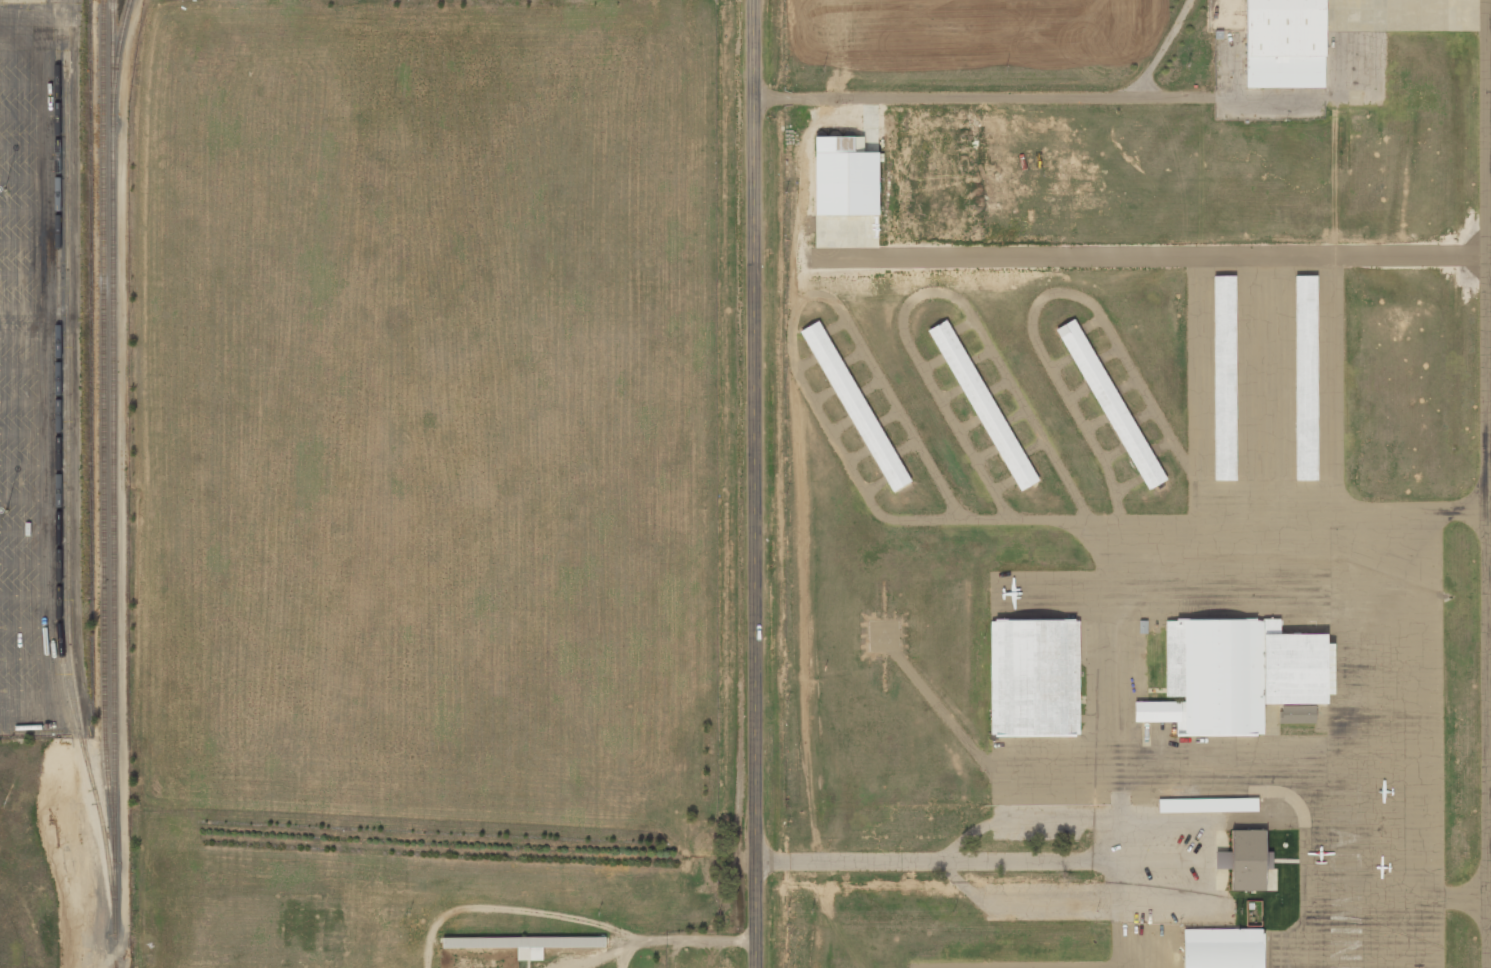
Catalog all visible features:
building: (1284, 43)
railway: (117, 56)
road: (984, 97)
building: (844, 178)
building: (1307, 378)
building: (1225, 379)
building: (1112, 405)
building: (985, 406)
building: (857, 407)
railway: (67, 414)
railway: (104, 426)
airport: (1137, 483)
airport taxiway: (1486, 483)
railway: (114, 484)
road: (754, 484)
railway: (58, 500)
airport taxiway: (1466, 513)
helipad: (884, 635)
airport apron: (1253, 642)
building: (1299, 670)
building: (1036, 678)
building: (1213, 678)
building: (1297, 714)
building: (1207, 805)
flagpole: (1284, 845)
building: (1268, 859)
road: (982, 860)
building: (1246, 860)
airport taxiway: (1463, 900)
building: (523, 941)
building: (1226, 949)
airport apron: (1035, 965)

